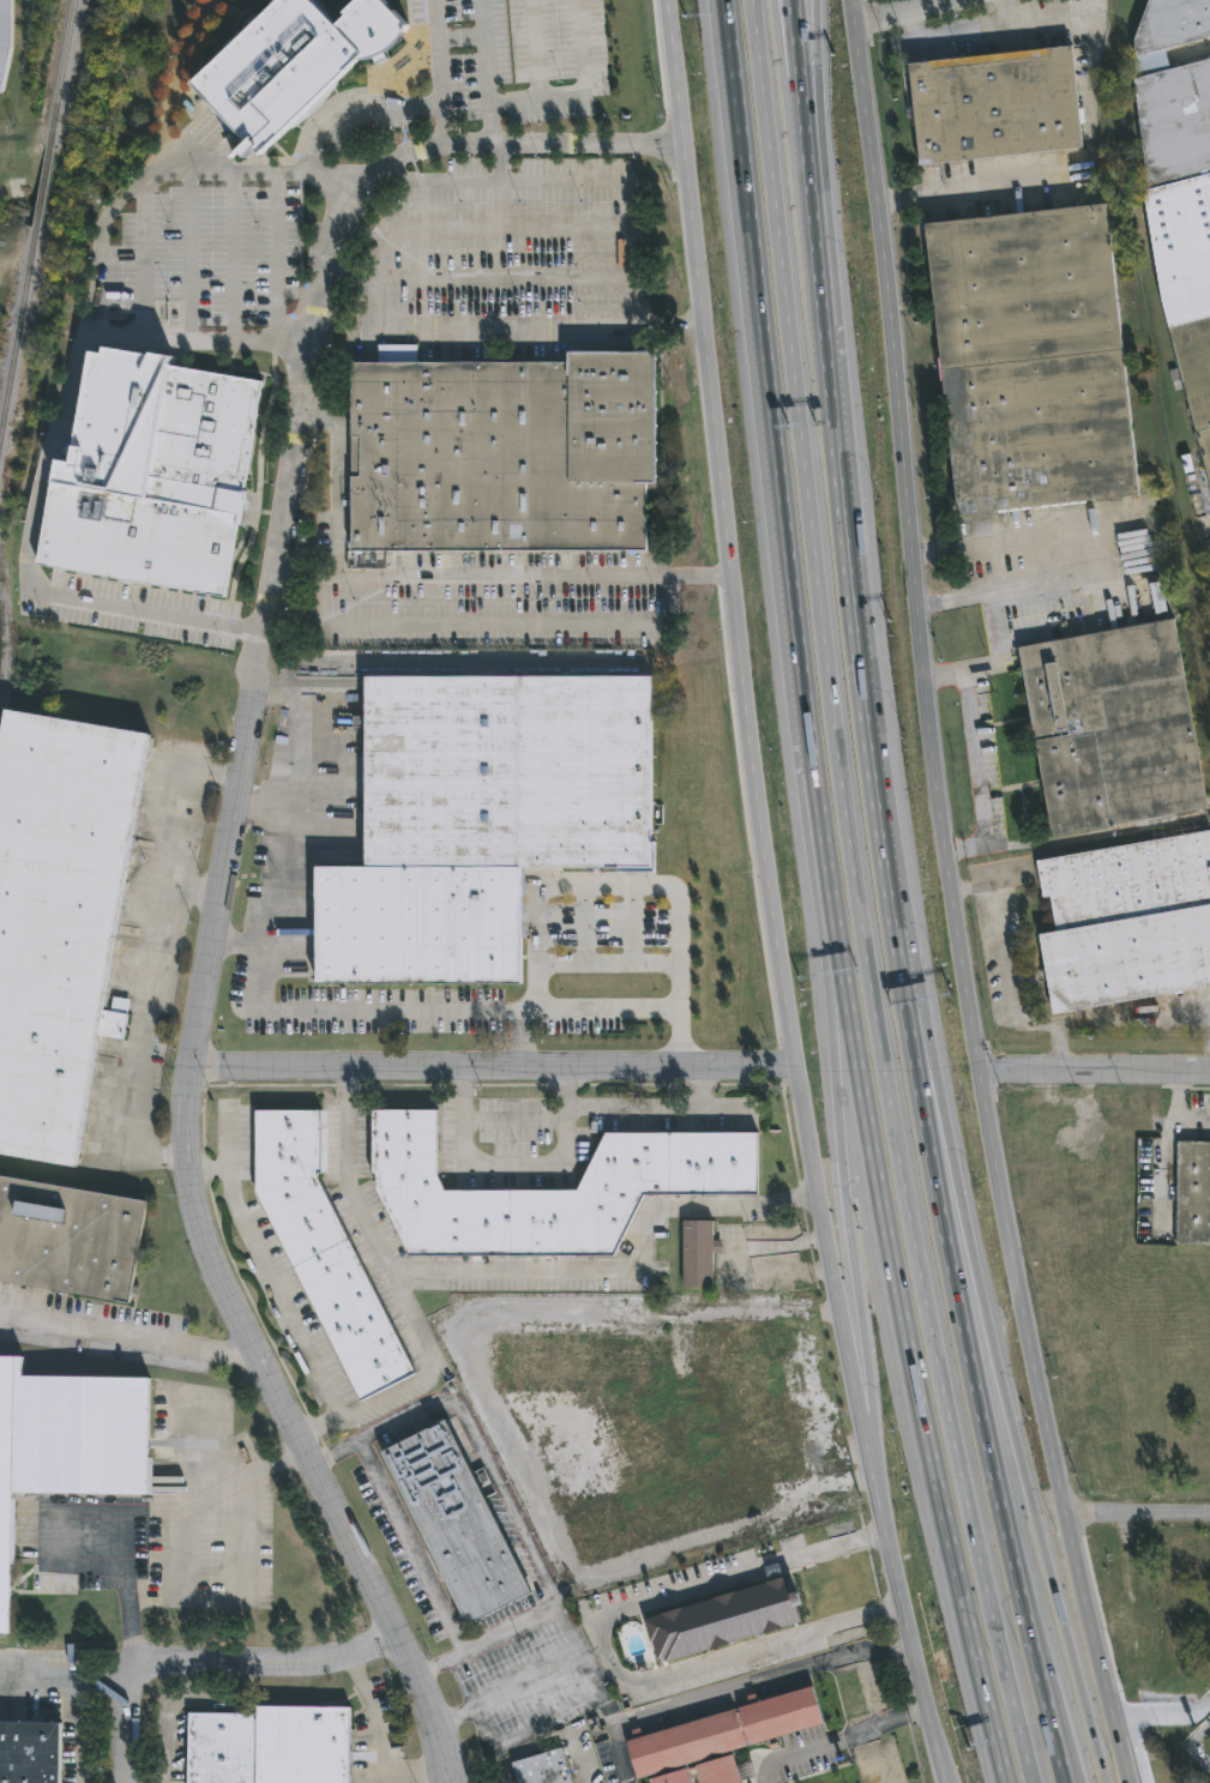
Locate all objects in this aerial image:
road: (898, 11)
road: (1009, 12)
road: (989, 30)
building: (568, 36)
building: (4, 38)
road: (787, 38)
road: (484, 52)
road: (795, 52)
road: (807, 53)
building: (289, 64)
railway: (64, 73)
road: (434, 77)
road: (555, 94)
building: (994, 107)
road: (349, 112)
road: (167, 165)
road: (439, 181)
road: (620, 181)
road: (980, 186)
building: (1179, 186)
railway: (44, 187)
road: (500, 204)
road: (487, 228)
road: (188, 253)
road: (275, 257)
road: (498, 326)
railway: (19, 336)
building: (1030, 361)
building: (501, 454)
road: (47, 469)
building: (150, 475)
road: (778, 490)
road: (845, 573)
road: (953, 577)
road: (700, 578)
road: (565, 619)
road: (997, 621)
railway: (5, 636)
building: (1112, 729)
road: (986, 761)
road: (263, 807)
building: (477, 820)
road: (233, 841)
road: (602, 885)
road: (192, 891)
road: (769, 897)
road: (856, 897)
road: (950, 897)
building: (58, 920)
building: (1127, 924)
road: (237, 945)
road: (260, 958)
road: (150, 960)
road: (1007, 969)
road: (602, 1010)
road: (1132, 1022)
road: (1092, 1067)
road: (492, 1068)
road: (699, 1088)
road: (657, 1109)
road: (1163, 1140)
road: (514, 1169)
building: (667, 1185)
road: (839, 1189)
building: (1192, 1194)
building: (67, 1242)
building: (323, 1252)
building: (697, 1255)
road: (738, 1259)
road: (620, 1275)
road: (270, 1279)
road: (396, 1294)
road: (126, 1339)
building: (578, 1363)
road: (915, 1384)
building: (754, 1397)
road: (1006, 1406)
road: (979, 1412)
road: (466, 1435)
building: (643, 1435)
building: (66, 1442)
building: (714, 1450)
road: (144, 1513)
road: (1137, 1514)
building: (453, 1520)
road: (411, 1547)
road: (836, 1550)
road: (781, 1567)
building: (718, 1620)
road: (571, 1636)
road: (212, 1662)
road: (70, 1673)
road: (642, 1683)
road: (733, 1686)
building: (781, 1716)
road: (72, 1728)
road: (873, 1729)
building: (685, 1745)
building: (267, 1746)
road: (1194, 1746)
road: (375, 1749)
road: (812, 1752)
building: (28, 1753)
building: (541, 1769)
building: (718, 1772)
building: (831, 1777)
building: (672, 1778)
road: (1104, 1778)
road: (380, 1781)

